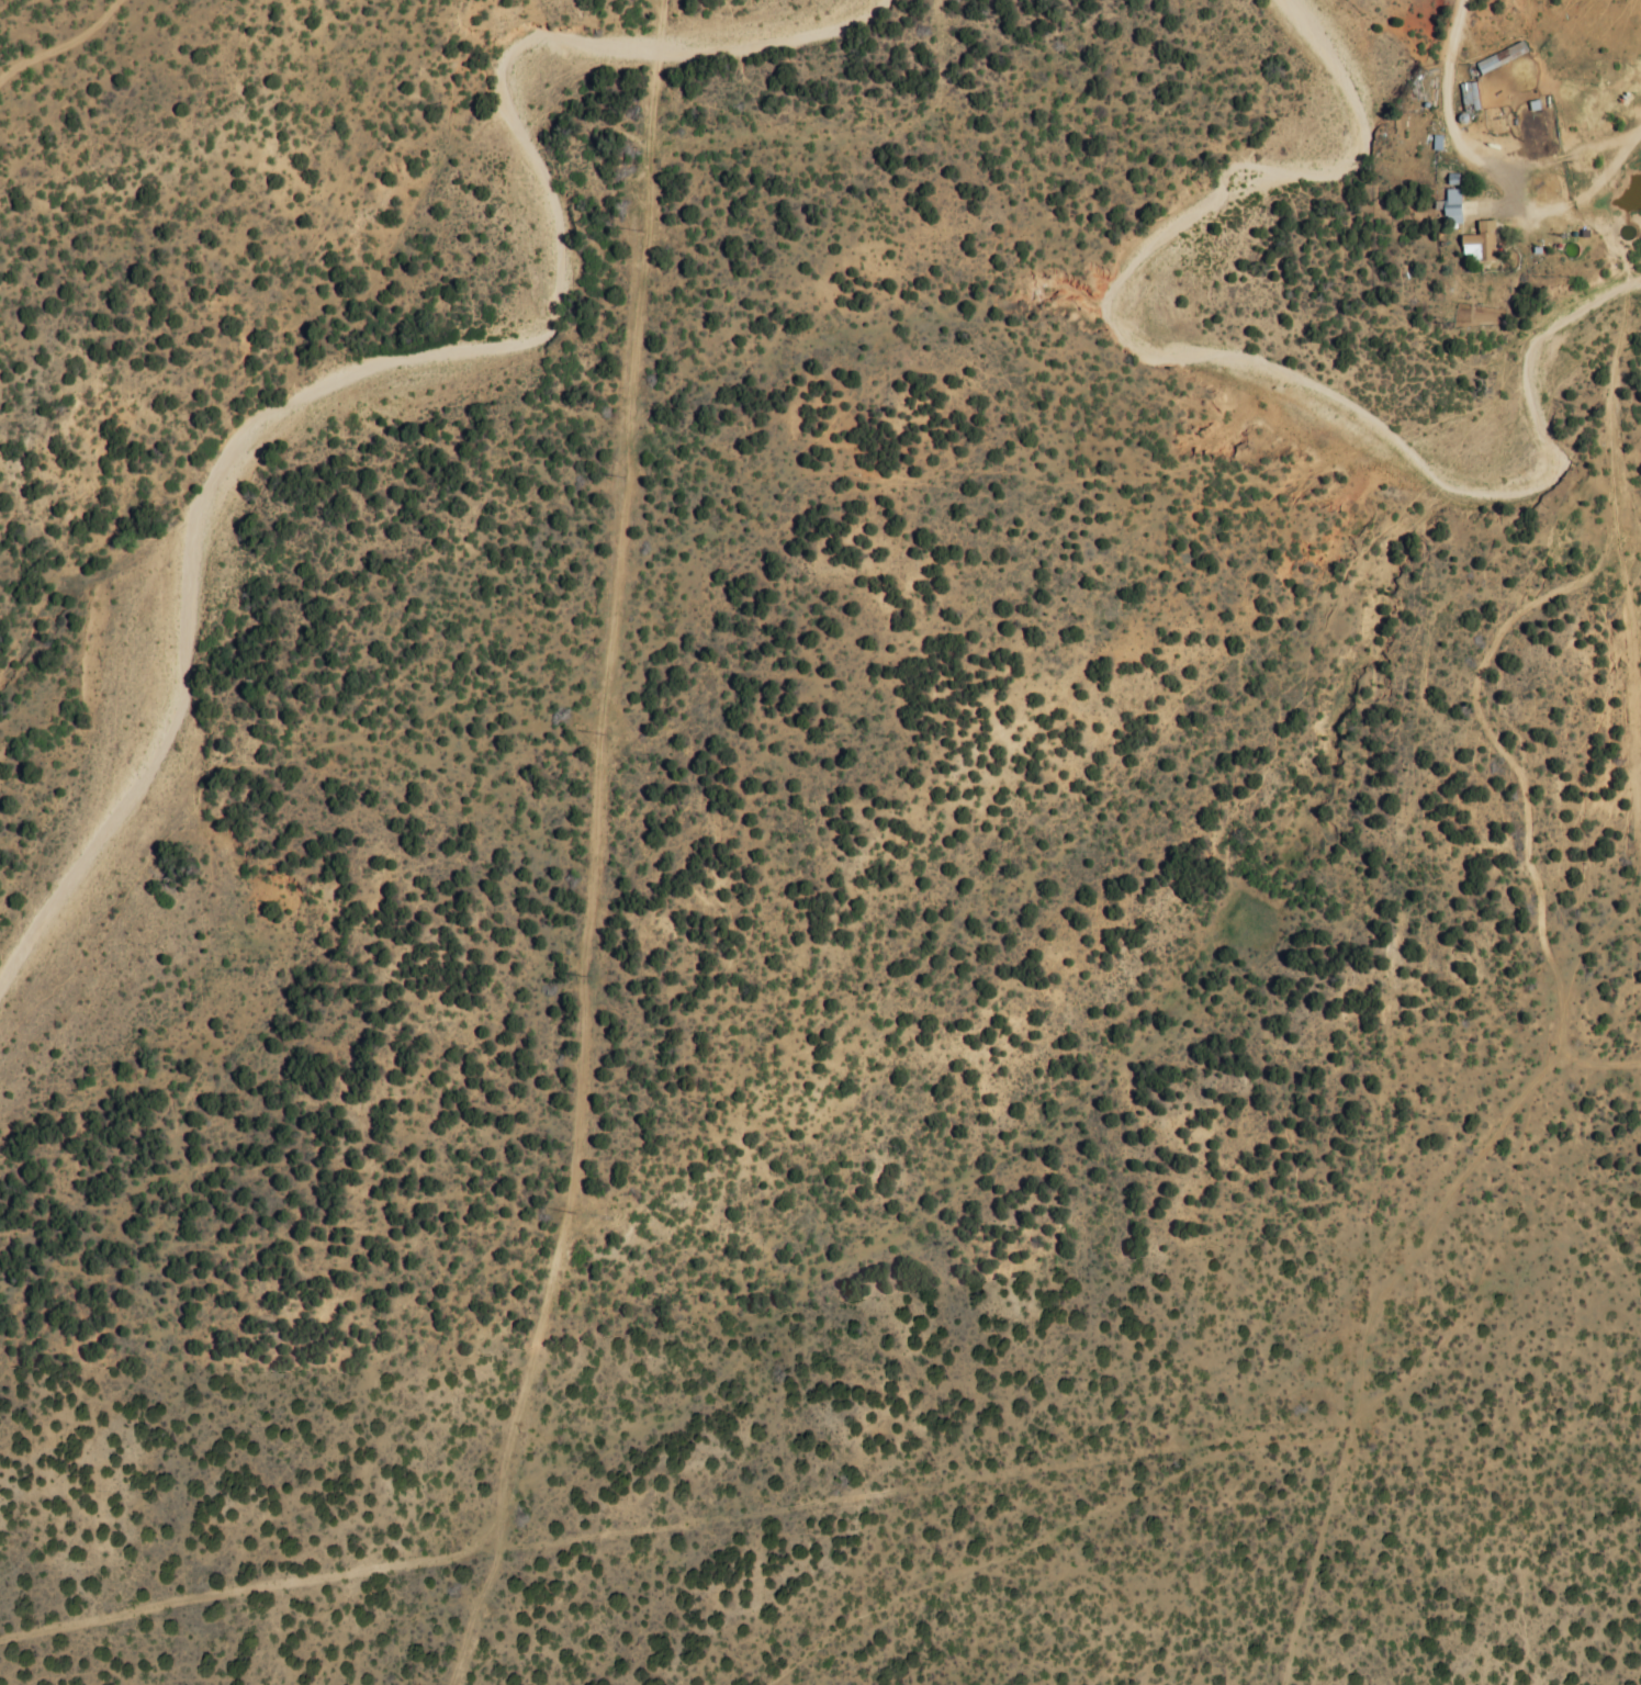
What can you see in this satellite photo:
road: (63, 45)
road: (1637, 133)
road: (1562, 155)
road: (1483, 166)
road: (1582, 193)
building: (1458, 207)
road: (1490, 209)
building: (1486, 244)
road: (1611, 419)
road: (1443, 726)
road: (1599, 1066)
road: (1359, 1339)
road: (1047, 1534)

